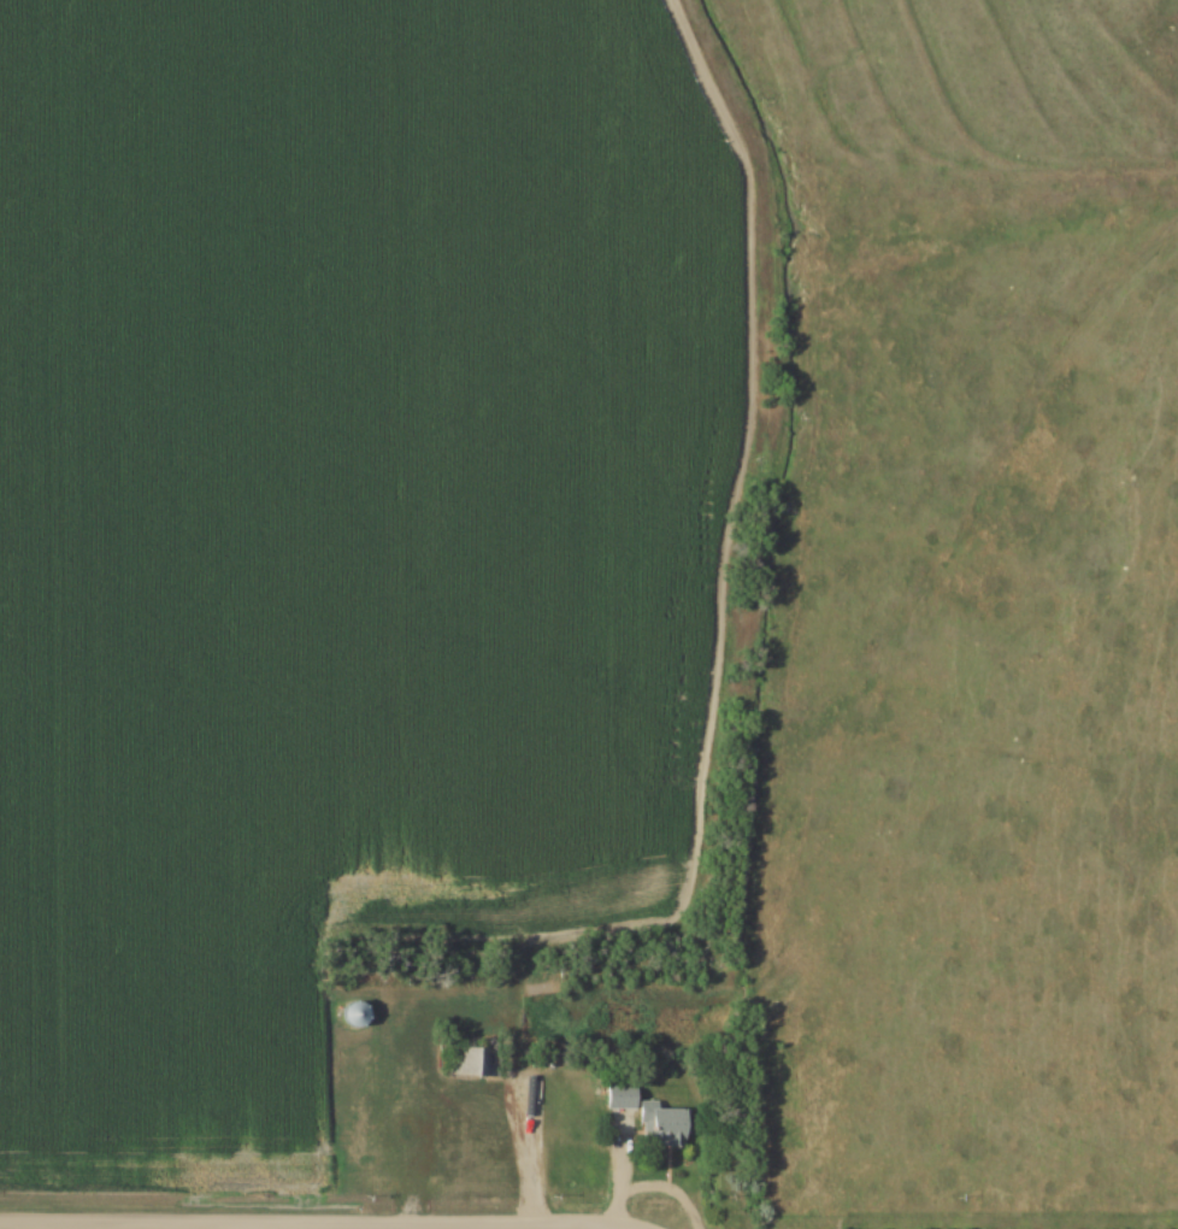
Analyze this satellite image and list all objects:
building: (357, 1015)
building: (470, 1062)
building: (625, 1098)
building: (666, 1127)
road: (312, 1225)

